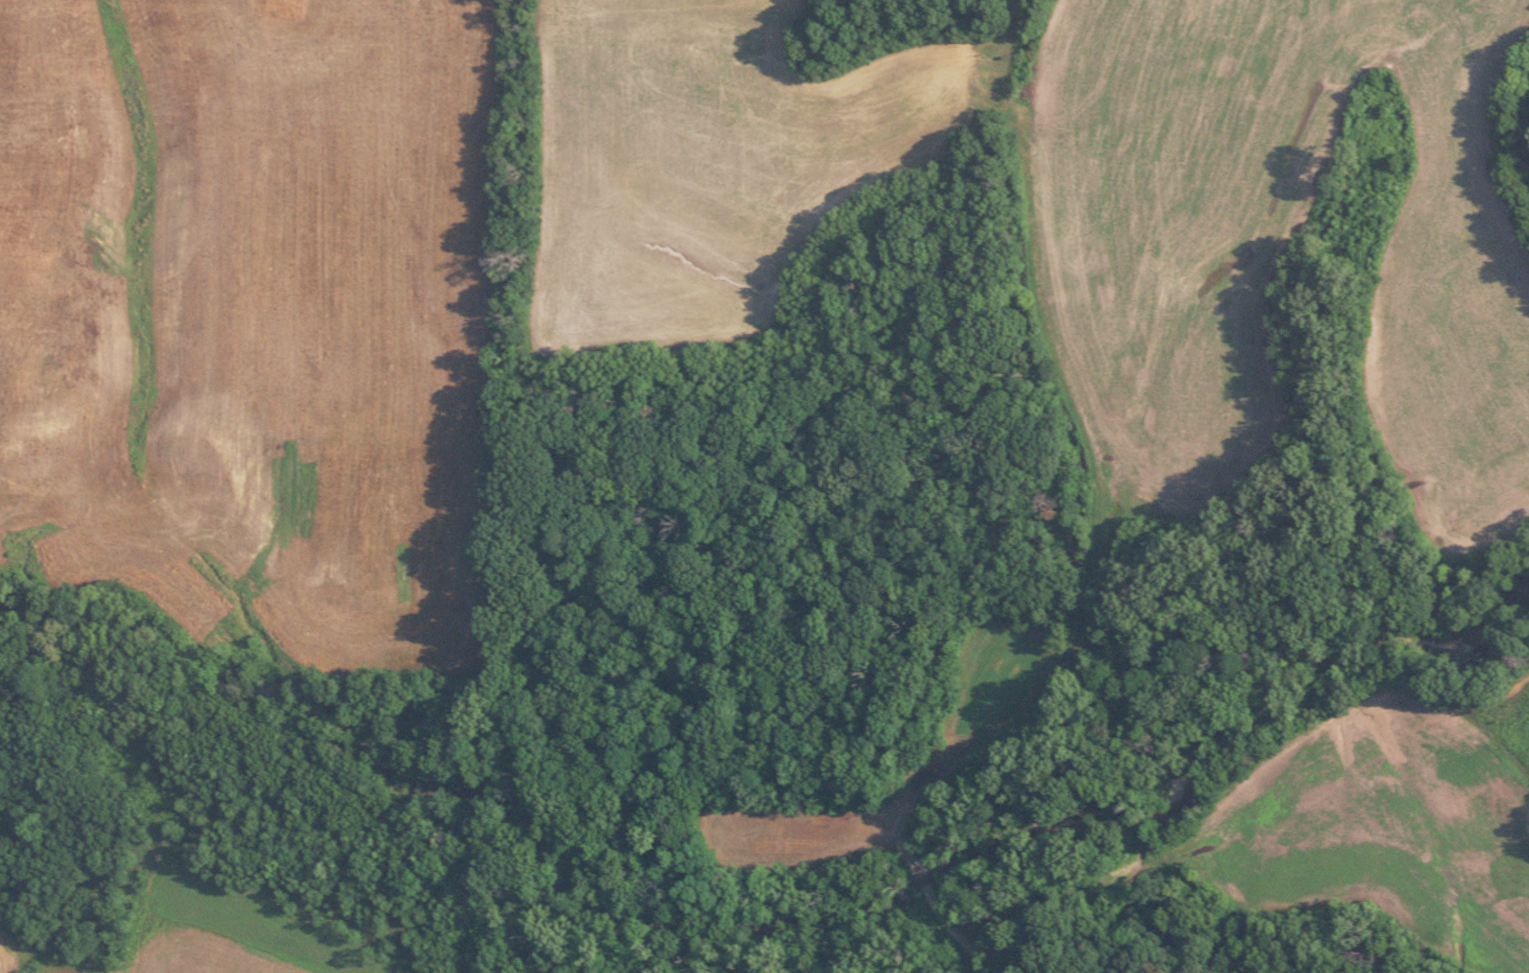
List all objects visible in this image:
park: (284, 8)

